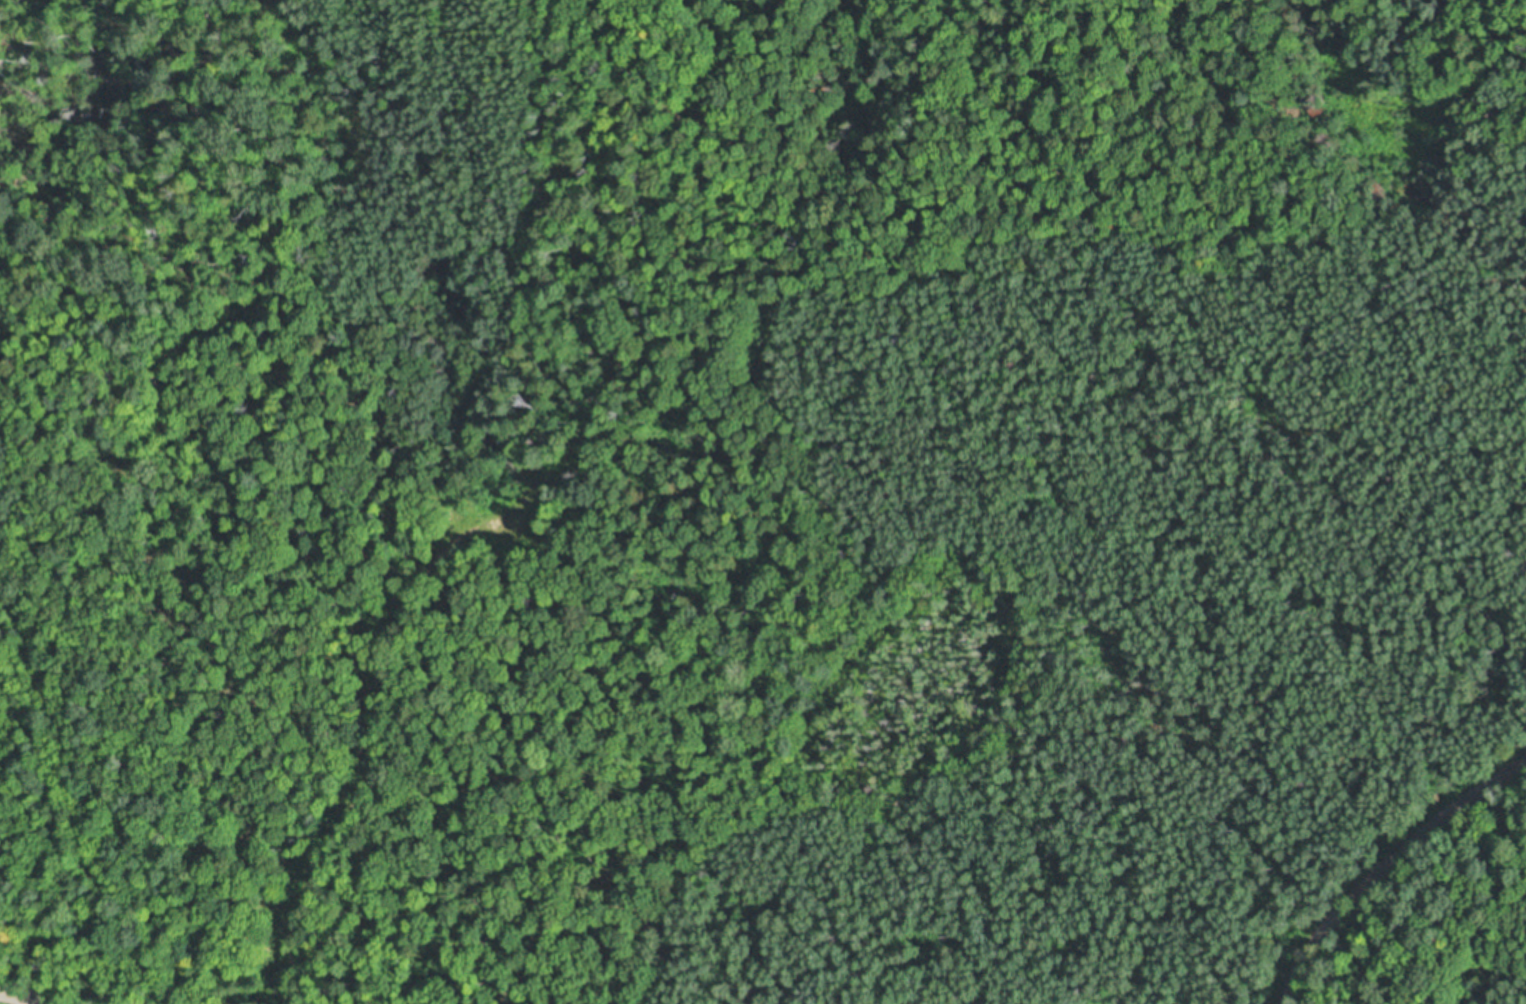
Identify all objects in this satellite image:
road: (1385, 865)
road: (13, 998)

